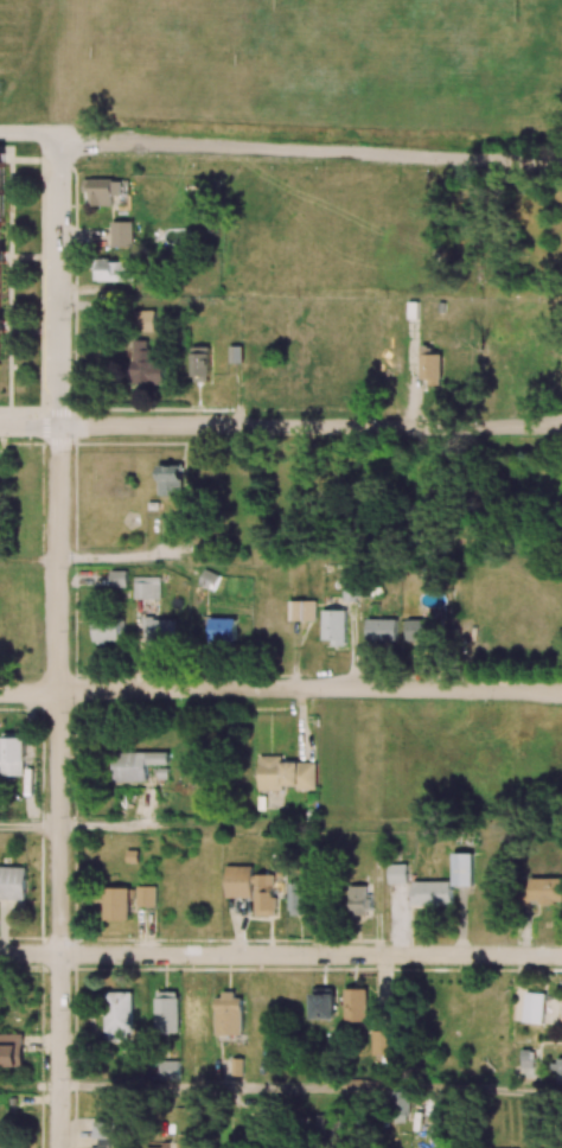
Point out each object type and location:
park: (280, 78)
road: (32, 134)
road: (312, 158)
building: (102, 190)
building: (1, 208)
building: (122, 234)
building: (114, 270)
building: (146, 320)
building: (235, 353)
building: (146, 364)
building: (200, 364)
building: (430, 365)
road: (281, 427)
building: (170, 480)
road: (30, 559)
building: (119, 578)
building: (209, 579)
building: (146, 587)
building: (352, 592)
building: (301, 610)
building: (334, 626)
building: (106, 630)
building: (382, 630)
building: (421, 630)
building: (222, 631)
building: (160, 633)
road: (59, 648)
road: (280, 693)
building: (12, 754)
building: (136, 765)
building: (286, 773)
road: (187, 825)
road: (30, 827)
building: (462, 869)
building: (397, 873)
building: (238, 881)
building: (12, 882)
building: (544, 891)
building: (432, 893)
building: (264, 894)
building: (146, 895)
building: (298, 898)
building: (359, 900)
building: (116, 904)
road: (281, 956)
building: (322, 1002)
building: (356, 1004)
building: (535, 1007)
building: (166, 1012)
building: (193, 1013)
building: (229, 1014)
building: (117, 1016)
building: (382, 1042)
building: (11, 1050)
building: (525, 1058)
building: (237, 1066)
building: (168, 1069)
building: (557, 1071)
road: (30, 1085)
road: (311, 1089)
building: (400, 1105)
building: (328, 1123)
building: (101, 1134)
building: (189, 1141)
building: (157, 1147)

